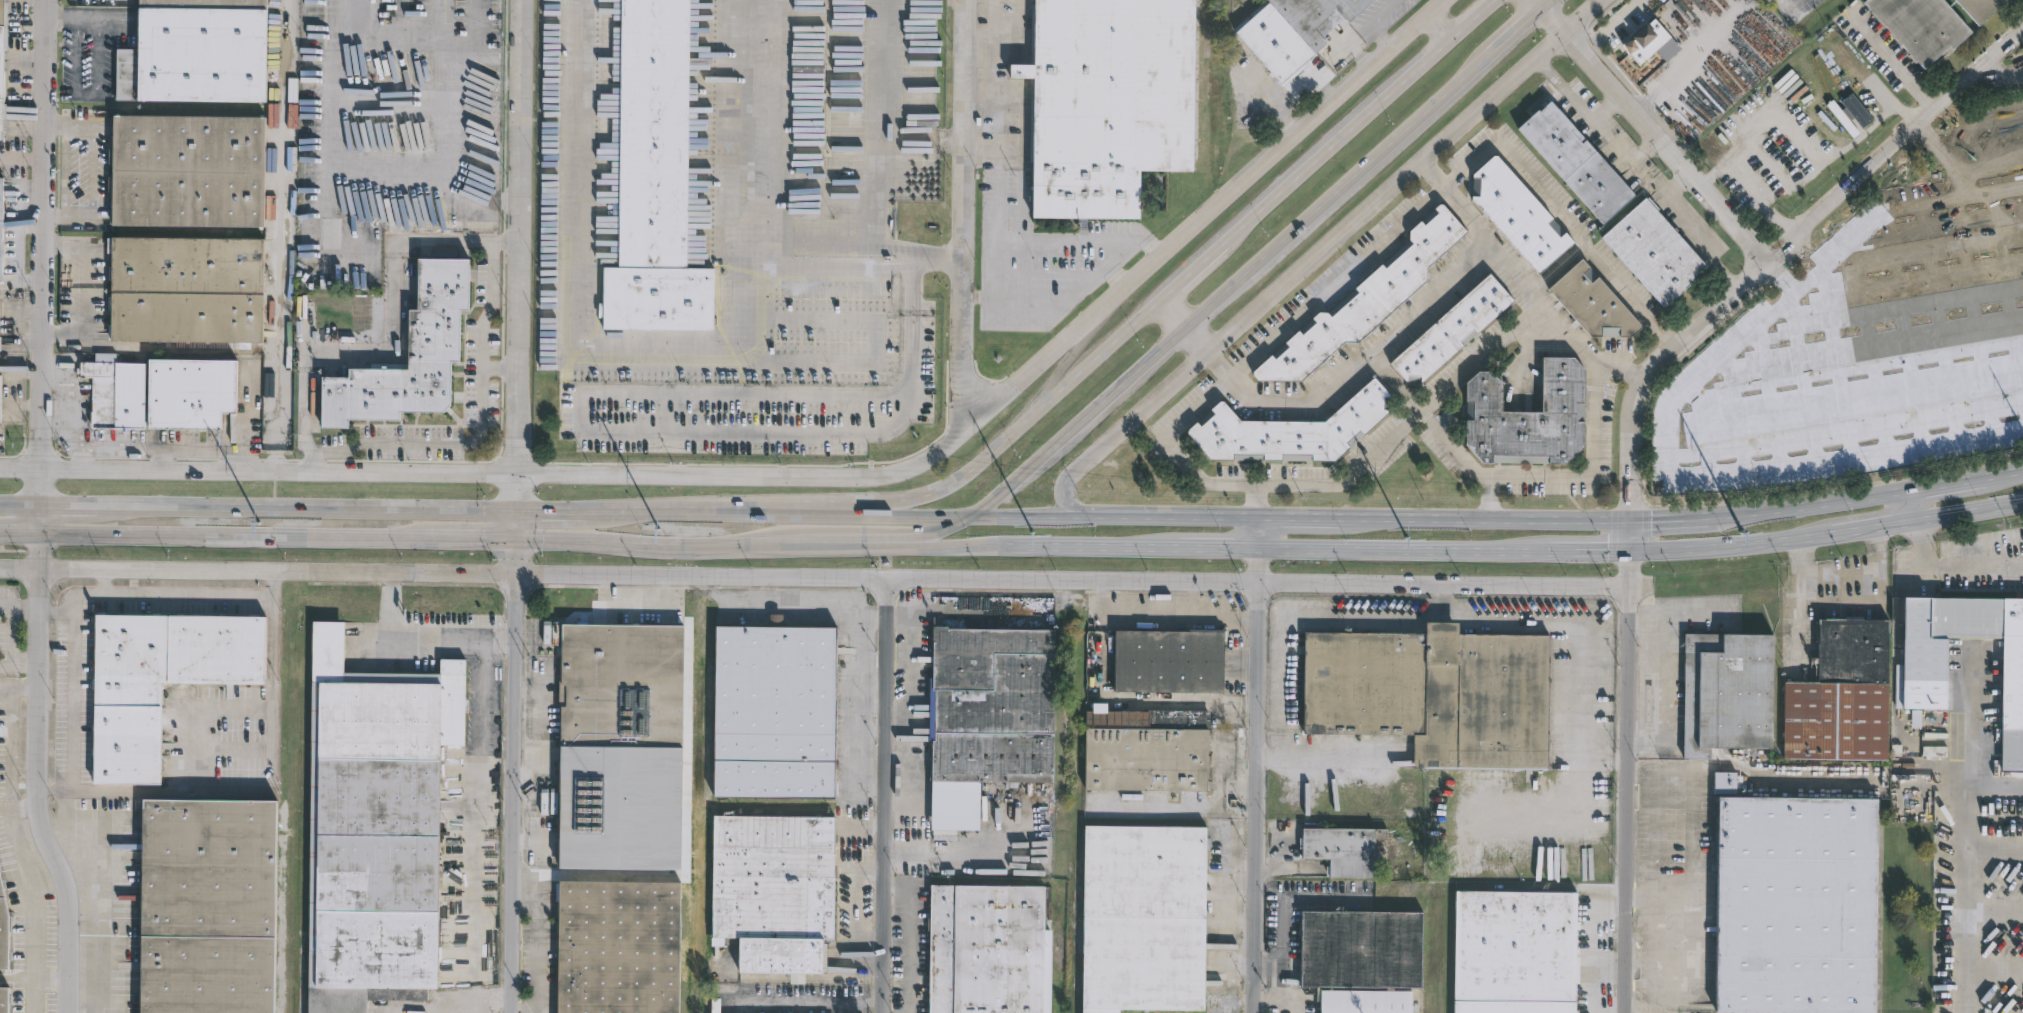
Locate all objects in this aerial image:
building: (1767, 0)
building: (1769, 0)
road: (1790, 1)
road: (1535, 5)
road: (1545, 5)
building: (1980, 8)
road: (87, 14)
road: (1375, 21)
building: (1921, 27)
road: (1570, 29)
road: (401, 30)
building: (1292, 32)
road: (1514, 33)
road: (978, 40)
building: (195, 52)
building: (2, 68)
road: (85, 92)
road: (982, 95)
building: (1106, 102)
road: (1575, 104)
road: (998, 118)
road: (1981, 120)
road: (875, 123)
road: (1355, 125)
road: (68, 126)
road: (1655, 137)
road: (1951, 152)
road: (1988, 158)
building: (1575, 163)
road: (396, 167)
road: (64, 170)
road: (91, 171)
building: (183, 172)
building: (656, 179)
road: (1431, 195)
road: (1374, 207)
road: (964, 214)
building: (1514, 214)
road: (68, 215)
road: (726, 216)
building: (1, 224)
road: (1690, 231)
road: (443, 241)
road: (1168, 244)
road: (1126, 253)
building: (1655, 253)
road: (44, 254)
road: (519, 255)
road: (756, 256)
road: (938, 258)
road: (1769, 264)
road: (996, 268)
road: (1189, 274)
road: (1791, 285)
building: (183, 287)
road: (1231, 289)
road: (980, 297)
road: (1543, 302)
building: (1593, 302)
building: (1365, 303)
road: (1175, 313)
building: (0, 325)
building: (1452, 331)
road: (1393, 332)
road: (1199, 340)
road: (358, 354)
building: (409, 356)
road: (610, 357)
road: (499, 369)
road: (1396, 381)
building: (162, 390)
road: (1667, 393)
building: (1, 396)
building: (1528, 416)
road: (480, 419)
building: (1290, 430)
road: (1117, 431)
road: (1455, 444)
road: (990, 452)
road: (1368, 457)
road: (367, 469)
road: (1599, 470)
road: (2010, 471)
road: (809, 475)
road: (1951, 482)
road: (1818, 504)
road: (1909, 505)
road: (20, 507)
road: (79, 508)
road: (317, 510)
road: (1968, 511)
traffic signals: (517, 512)
road: (552, 512)
road: (681, 512)
road: (871, 515)
traffic signals: (969, 517)
road: (1026, 517)
road: (1152, 517)
road: (1240, 518)
road: (1303, 518)
road: (1680, 518)
road: (1488, 519)
road: (40, 520)
traffic signals: (1630, 520)
power tower: (259, 522)
road: (517, 525)
road: (1876, 527)
power tower: (659, 529)
power tower: (1032, 531)
power tower: (1743, 531)
road: (20, 532)
road: (1259, 533)
road: (235, 535)
road: (909, 535)
power tower: (1407, 535)
road: (473, 537)
traffic signals: (518, 538)
road: (654, 544)
road: (819, 545)
road: (941, 546)
road: (1735, 546)
road: (1110, 548)
road: (1222, 549)
road: (1407, 550)
road: (1592, 551)
traffic signals: (1630, 551)
road: (1951, 568)
road: (444, 576)
road: (107, 582)
road: (1801, 582)
road: (1260, 584)
road: (79, 596)
road: (1104, 598)
road: (1191, 598)
road: (20, 604)
road: (632, 606)
road: (57, 612)
road: (1149, 614)
road: (1369, 620)
road: (426, 638)
road: (1234, 647)
building: (1167, 660)
road: (19, 663)
building: (161, 680)
building: (1919, 686)
road: (19, 687)
road: (1665, 688)
road: (1582, 689)
road: (529, 692)
building: (1727, 692)
building: (1433, 693)
building: (1842, 695)
road: (543, 697)
building: (771, 710)
building: (987, 716)
building: (617, 745)
building: (1142, 749)
road: (1325, 757)
road: (38, 774)
road: (515, 775)
road: (1255, 780)
road: (1626, 781)
building: (1727, 781)
road: (263, 793)
road: (885, 796)
road: (20, 808)
building: (371, 822)
road: (1676, 837)
road: (21, 849)
building: (1343, 849)
road: (1966, 876)
building: (773, 891)
road: (859, 904)
building: (1797, 904)
building: (207, 906)
road: (1290, 912)
building: (1142, 919)
building: (5, 927)
road: (535, 940)
road: (913, 941)
building: (615, 947)
building: (984, 949)
road: (1676, 950)
building: (1368, 951)
building: (1515, 952)
road: (1651, 963)
road: (17, 978)
road: (808, 998)
road: (1280, 998)
building: (4, 1000)
building: (1371, 1004)
building: (716, 1005)

